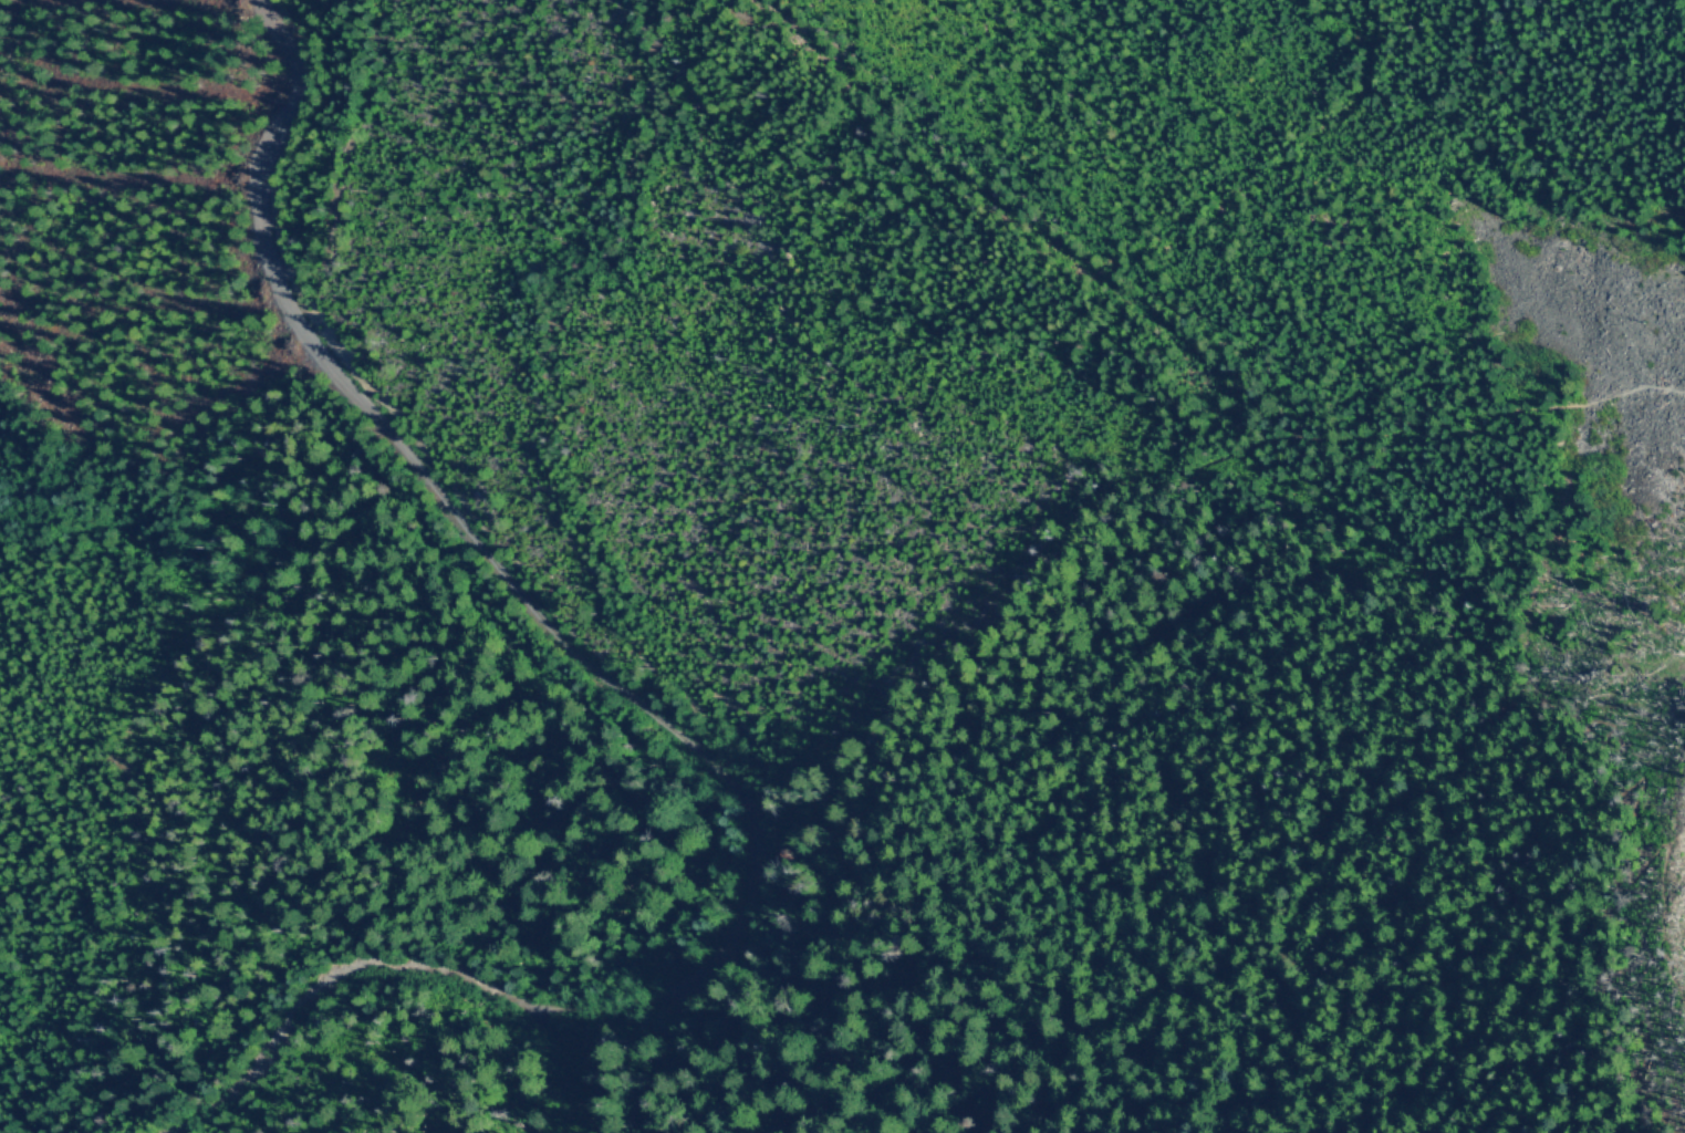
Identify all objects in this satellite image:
road: (1396, 628)
road: (638, 708)
road: (196, 1108)

